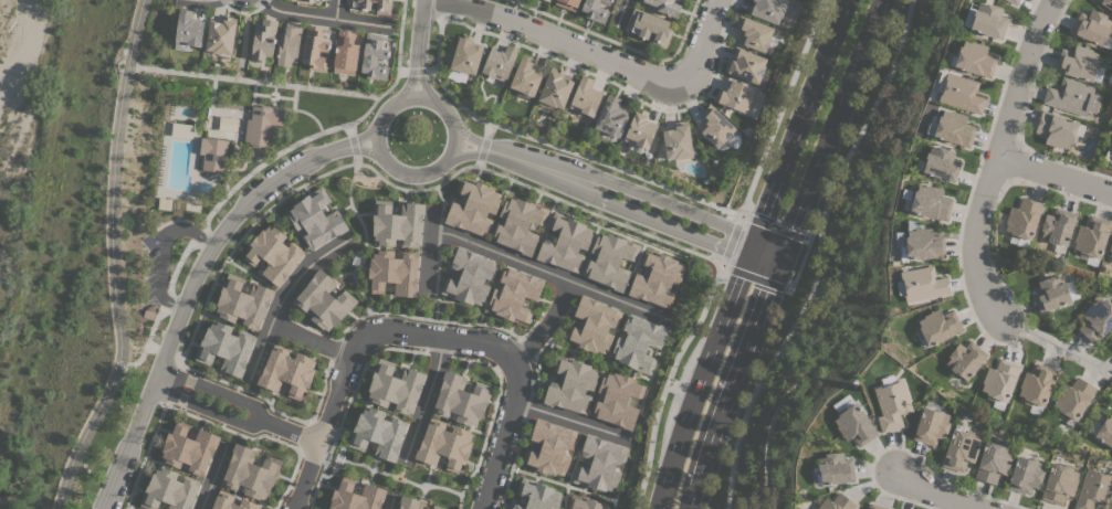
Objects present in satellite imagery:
building: (295, 0)
building: (312, 0)
building: (546, 0)
building: (548, 0)
building: (1013, 1)
building: (567, 3)
building: (1106, 3)
building: (665, 6)
building: (384, 7)
road: (440, 7)
road: (334, 9)
building: (768, 9)
building: (595, 10)
road: (621, 12)
road: (318, 15)
building: (988, 21)
building: (649, 26)
building: (1092, 26)
building: (188, 31)
building: (753, 33)
building: (221, 34)
road: (417, 34)
building: (264, 40)
building: (289, 44)
building: (315, 46)
building: (345, 52)
road: (591, 54)
building: (375, 55)
building: (465, 55)
building: (974, 59)
building: (500, 62)
building: (1080, 63)
building: (746, 65)
road: (416, 70)
building: (526, 76)
road: (252, 81)
road: (406, 84)
road: (422, 84)
building: (555, 88)
building: (961, 93)
building: (735, 95)
building: (585, 96)
building: (1072, 96)
road: (779, 107)
building: (611, 116)
road: (798, 118)
road: (830, 124)
building: (262, 126)
building: (714, 126)
building: (952, 128)
building: (1057, 128)
building: (640, 129)
road: (359, 138)
building: (678, 141)
road: (350, 142)
road: (482, 145)
road: (550, 145)
road: (360, 149)
building: (213, 153)
building: (1108, 156)
road: (995, 160)
building: (941, 163)
road: (254, 168)
road: (411, 173)
road: (1055, 174)
road: (604, 179)
road: (405, 190)
road: (598, 199)
building: (930, 202)
building: (473, 206)
building: (316, 219)
building: (1022, 219)
building: (397, 224)
building: (518, 224)
building: (1058, 227)
building: (1091, 236)
traffic signals: (754, 237)
road: (363, 238)
road: (730, 238)
road: (768, 242)
building: (565, 243)
building: (922, 245)
road: (751, 247)
traffic signals: (783, 247)
road: (802, 250)
road: (428, 251)
building: (1110, 251)
road: (162, 252)
building: (273, 254)
road: (816, 255)
traffic signals: (747, 257)
road: (779, 257)
road: (113, 259)
building: (610, 261)
road: (762, 262)
traffic signals: (776, 267)
building: (394, 272)
road: (546, 272)
building: (469, 276)
building: (657, 278)
building: (922, 284)
building: (1070, 289)
building: (1051, 293)
building: (514, 294)
road: (185, 298)
building: (323, 300)
building: (243, 301)
road: (274, 309)
road: (423, 318)
building: (1097, 320)
road: (544, 325)
building: (594, 325)
building: (937, 327)
building: (638, 343)
building: (225, 347)
road: (155, 348)
road: (259, 349)
building: (965, 359)
road: (511, 362)
building: (286, 371)
building: (999, 380)
road: (665, 381)
road: (699, 381)
road: (170, 383)
building: (571, 384)
building: (1037, 384)
building: (395, 386)
road: (732, 388)
road: (214, 389)
building: (1073, 397)
road: (423, 399)
building: (461, 399)
building: (617, 400)
building: (892, 404)
road: (206, 409)
road: (326, 417)
road: (569, 418)
building: (853, 424)
building: (931, 426)
road: (291, 431)
building: (1105, 431)
building: (378, 433)
building: (443, 444)
building: (550, 447)
building: (189, 448)
building: (961, 448)
road: (144, 454)
building: (993, 462)
building: (599, 464)
building: (833, 468)
building: (250, 473)
building: (1025, 474)
road: (210, 478)
building: (1059, 483)
building: (1093, 489)
building: (169, 490)
road: (932, 494)
building: (537, 495)
building: (356, 496)
building: (231, 501)
road: (388, 502)
building: (409, 502)
building: (585, 502)
building: (837, 502)
building: (877, 506)
building: (438, 507)

